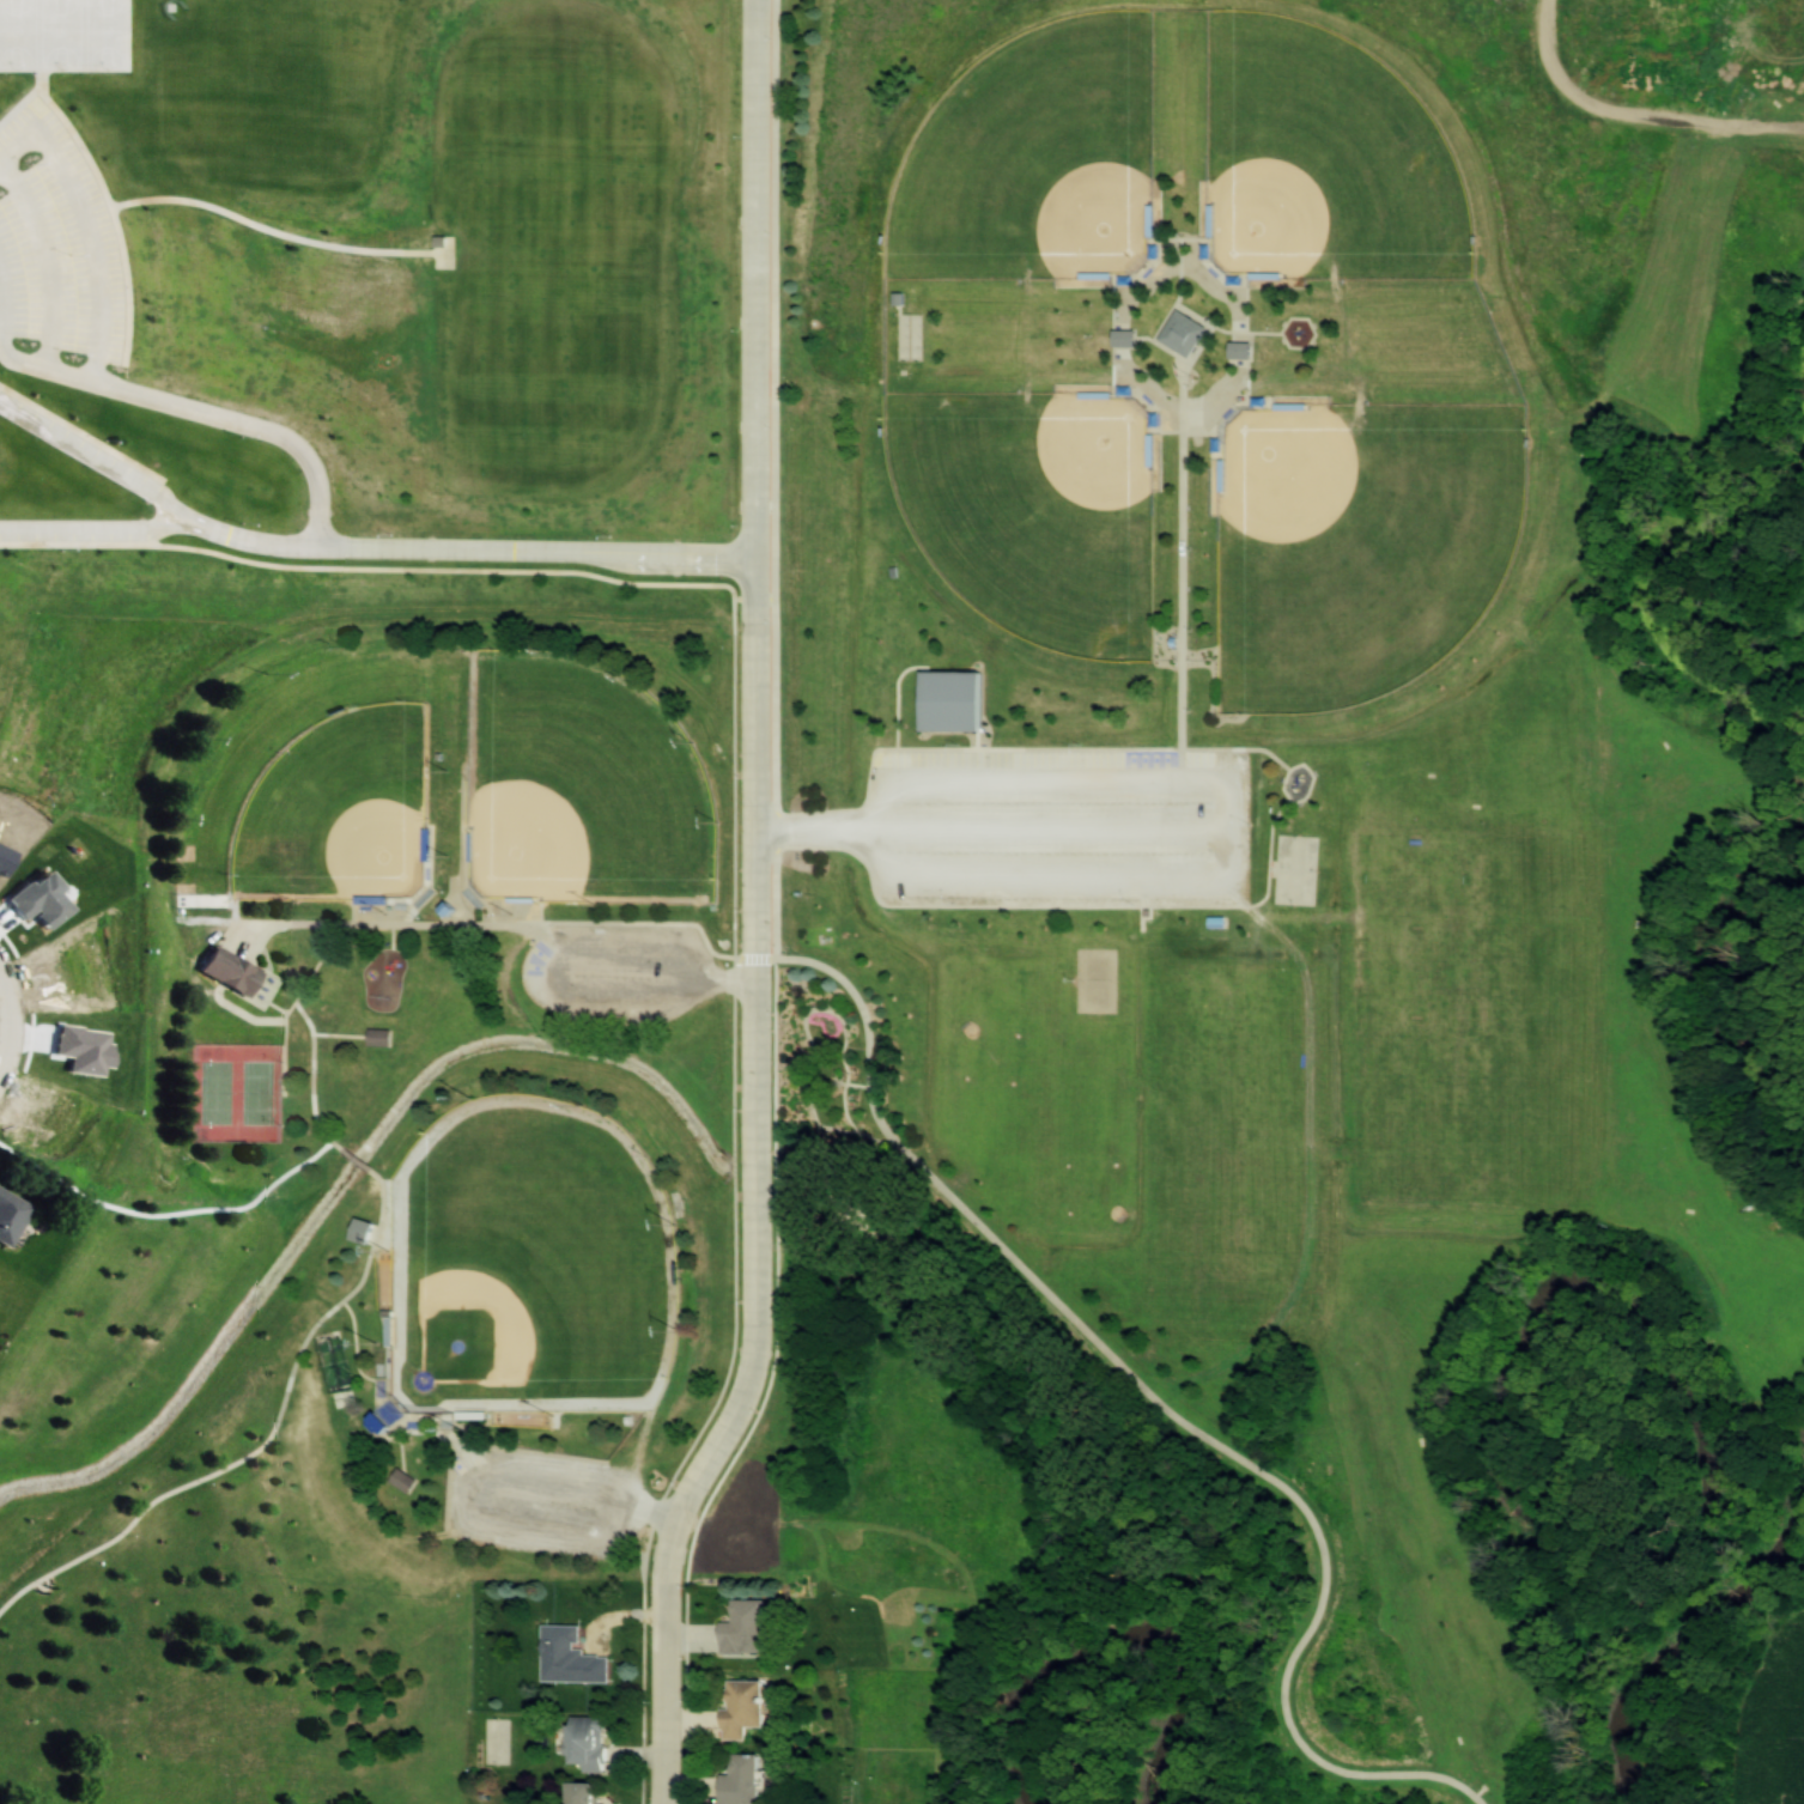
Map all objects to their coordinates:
road: (65, 37)
road: (50, 75)
park: (1033, 159)
park: (1322, 159)
road: (95, 212)
road: (55, 257)
road: (10, 302)
building: (1182, 334)
building: (1123, 339)
building: (1239, 351)
road: (211, 413)
road: (98, 455)
park: (1033, 509)
road: (99, 536)
park: (1357, 545)
road: (478, 553)
building: (950, 701)
park: (310, 785)
park: (579, 786)
road: (1001, 834)
road: (892, 839)
park: (855, 894)
road: (766, 912)
building: (1095, 962)
building: (230, 971)
road: (291, 1004)
road: (10, 1016)
road: (310, 1079)
park: (236, 1093)
road: (354, 1161)
building: (10, 1215)
park: (529, 1263)
road: (1162, 1403)
building: (375, 1423)
road: (261, 1444)
building: (400, 1480)
building: (745, 1626)
building: (569, 1656)
building: (740, 1707)
building: (584, 1742)
building: (739, 1780)
building: (584, 1792)

